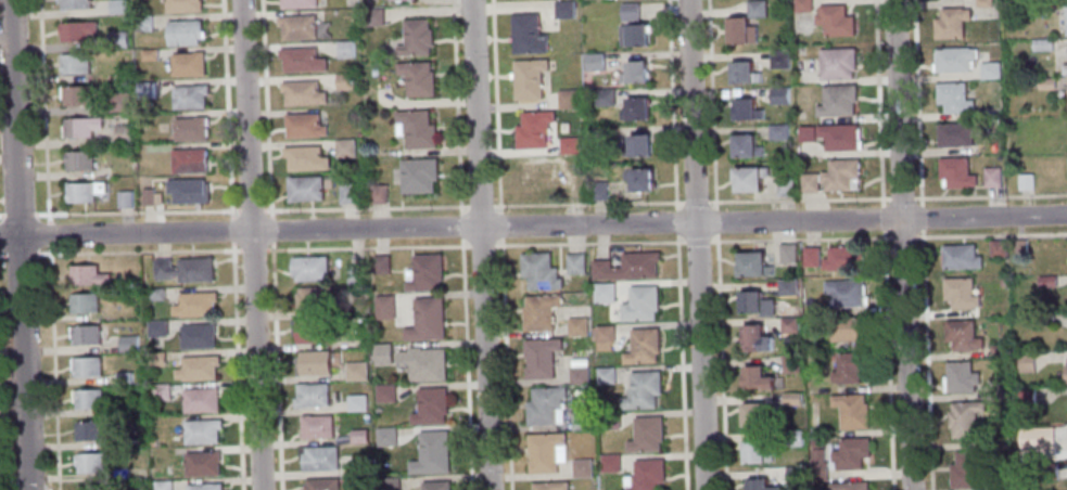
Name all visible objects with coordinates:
building: (396, 0)
building: (296, 3)
building: (981, 3)
building: (73, 4)
building: (182, 5)
building: (115, 7)
building: (802, 8)
building: (561, 10)
building: (757, 11)
building: (627, 12)
building: (371, 17)
building: (1065, 21)
building: (142, 23)
building: (835, 23)
building: (949, 23)
building: (300, 28)
building: (76, 30)
building: (182, 33)
building: (525, 35)
building: (632, 36)
building: (741, 37)
building: (117, 39)
building: (415, 39)
building: (1041, 46)
building: (344, 49)
building: (148, 54)
building: (301, 60)
building: (951, 60)
building: (778, 61)
building: (593, 62)
building: (75, 63)
building: (187, 64)
building: (838, 67)
building: (988, 70)
building: (1064, 70)
building: (633, 73)
building: (745, 78)
building: (416, 79)
building: (526, 79)
building: (344, 81)
building: (1045, 83)
building: (144, 90)
building: (302, 93)
building: (75, 95)
building: (188, 96)
building: (604, 96)
building: (780, 98)
building: (952, 98)
building: (567, 99)
building: (117, 102)
road: (876, 102)
road: (915, 102)
road: (671, 104)
road: (711, 104)
building: (837, 105)
road: (225, 107)
road: (265, 107)
building: (633, 109)
building: (748, 115)
building: (303, 126)
building: (80, 127)
building: (414, 128)
building: (189, 129)
building: (532, 130)
building: (598, 133)
building: (120, 134)
building: (358, 134)
building: (780, 134)
building: (954, 134)
building: (808, 137)
building: (840, 140)
building: (568, 145)
building: (636, 146)
building: (344, 147)
building: (747, 153)
building: (304, 158)
building: (78, 160)
building: (188, 162)
building: (954, 172)
building: (417, 176)
building: (536, 176)
building: (991, 178)
building: (637, 180)
building: (834, 181)
building: (573, 182)
building: (1025, 182)
building: (752, 185)
building: (303, 189)
building: (597, 190)
building: (786, 190)
building: (82, 191)
building: (188, 191)
building: (346, 193)
building: (378, 194)
road: (990, 195)
building: (145, 196)
road: (901, 197)
road: (798, 198)
building: (124, 199)
road: (695, 201)
road: (473, 205)
road: (131, 211)
road: (919, 217)
road: (880, 218)
road: (675, 220)
road: (714, 220)
road: (533, 225)
road: (229, 229)
road: (270, 229)
road: (990, 234)
road: (903, 237)
road: (799, 238)
road: (696, 241)
road: (17, 244)
road: (50, 244)
road: (250, 244)
road: (460, 244)
road: (480, 244)
road: (501, 244)
road: (696, 244)
road: (902, 244)
road: (474, 245)
building: (1020, 247)
building: (998, 248)
road: (252, 249)
road: (118, 252)
building: (787, 253)
building: (811, 256)
building: (961, 256)
building: (843, 258)
building: (573, 265)
building: (753, 265)
building: (379, 266)
building: (626, 267)
building: (158, 269)
building: (196, 269)
building: (308, 269)
building: (537, 272)
building: (353, 273)
building: (427, 273)
building: (86, 276)
building: (1046, 281)
building: (786, 288)
building: (604, 293)
building: (846, 293)
building: (961, 293)
building: (153, 294)
building: (312, 300)
building: (751, 300)
building: (198, 302)
building: (640, 304)
building: (84, 305)
building: (382, 307)
building: (538, 312)
building: (1046, 319)
building: (428, 320)
building: (789, 324)
building: (575, 326)
building: (155, 327)
building: (847, 328)
building: (309, 331)
building: (605, 334)
building: (962, 334)
building: (86, 335)
building: (199, 335)
building: (755, 337)
building: (128, 344)
building: (604, 346)
building: (643, 346)
building: (998, 350)
building: (382, 356)
building: (541, 357)
building: (155, 359)
road: (886, 359)
road: (925, 359)
road: (682, 361)
road: (720, 361)
building: (579, 362)
building: (1027, 362)
building: (312, 363)
building: (424, 363)
building: (789, 363)
road: (236, 365)
building: (87, 366)
building: (201, 366)
road: (276, 366)
building: (849, 366)
building: (354, 371)
building: (1066, 373)
building: (579, 374)
building: (606, 374)
building: (757, 376)
building: (961, 376)
building: (123, 377)
building: (643, 390)
building: (157, 391)
building: (1000, 394)
building: (383, 395)
building: (309, 396)
building: (1026, 397)
building: (88, 398)
building: (790, 398)
building: (202, 399)
building: (355, 403)
building: (432, 405)
building: (546, 405)
building: (851, 410)
building: (755, 414)
building: (965, 417)
building: (610, 420)
building: (581, 421)
building: (315, 427)
building: (89, 429)
building: (203, 430)
building: (647, 434)
building: (385, 436)
building: (357, 437)
building: (1033, 437)
building: (792, 438)
building: (118, 443)
building: (814, 443)
building: (546, 451)
building: (755, 452)
building: (851, 452)
building: (433, 453)
building: (817, 455)
building: (317, 459)
building: (610, 462)
building: (90, 463)
building: (205, 463)
building: (361, 466)
building: (968, 467)
building: (583, 468)
building: (820, 470)
building: (1049, 470)
building: (119, 473)
building: (647, 475)
building: (795, 475)
building: (389, 483)
building: (162, 485)
building: (320, 485)
building: (437, 485)
building: (761, 485)
building: (1004, 485)
building: (206, 486)
building: (550, 486)
building: (849, 486)
building: (97, 487)
building: (869, 489)

